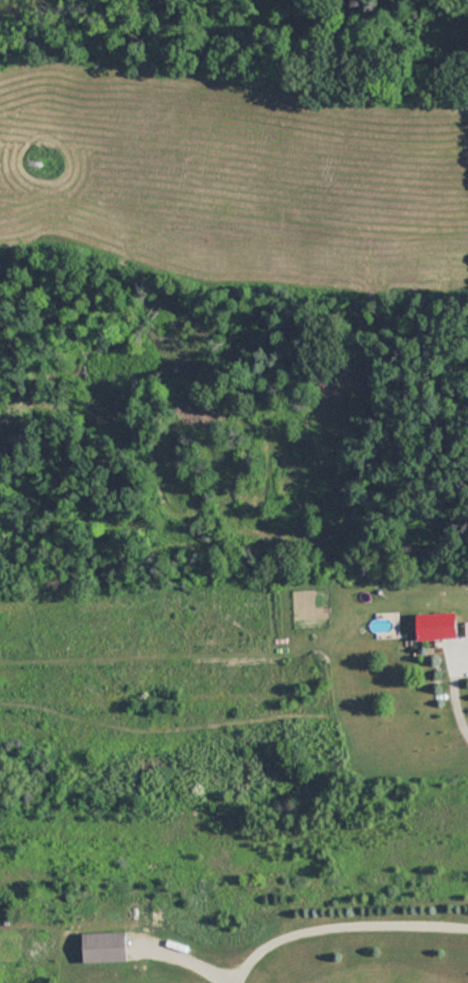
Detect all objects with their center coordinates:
building: (441, 626)
road: (456, 688)
road: (337, 915)
building: (108, 947)

